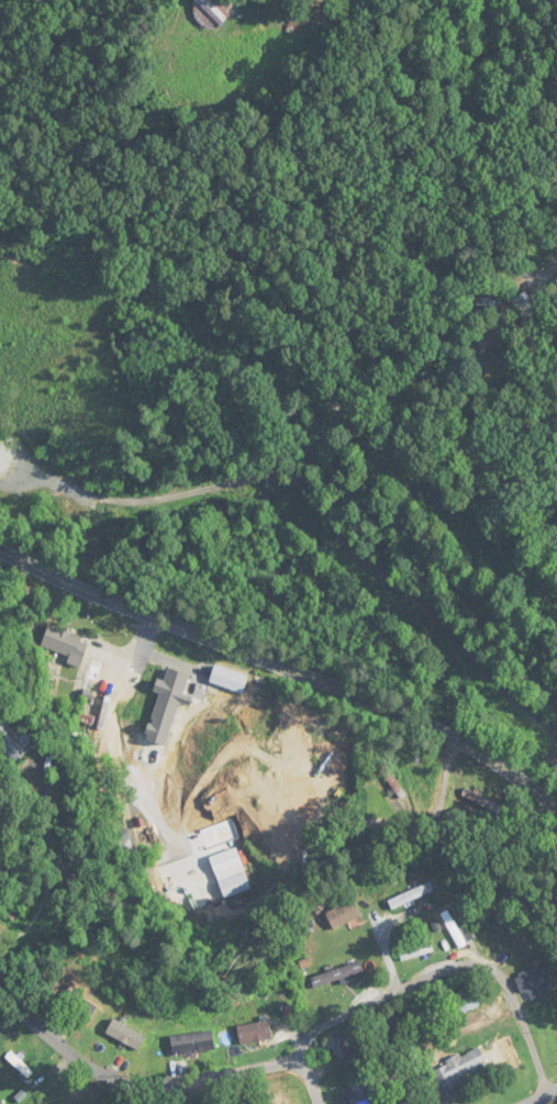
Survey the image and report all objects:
building: (212, 11)
building: (525, 306)
railway: (302, 391)
building: (64, 638)
road: (283, 657)
building: (193, 672)
building: (90, 681)
building: (556, 703)
road: (103, 737)
building: (12, 743)
building: (325, 779)
building: (289, 819)
road: (54, 871)
building: (406, 896)
building: (342, 915)
building: (415, 951)
road: (447, 967)
building: (336, 974)
building: (532, 982)
building: (465, 1000)
building: (79, 1005)
building: (254, 1033)
building: (125, 1035)
building: (192, 1044)
building: (342, 1044)
building: (460, 1070)
road: (157, 1083)
building: (363, 1093)
road: (539, 1095)
building: (267, 1099)

